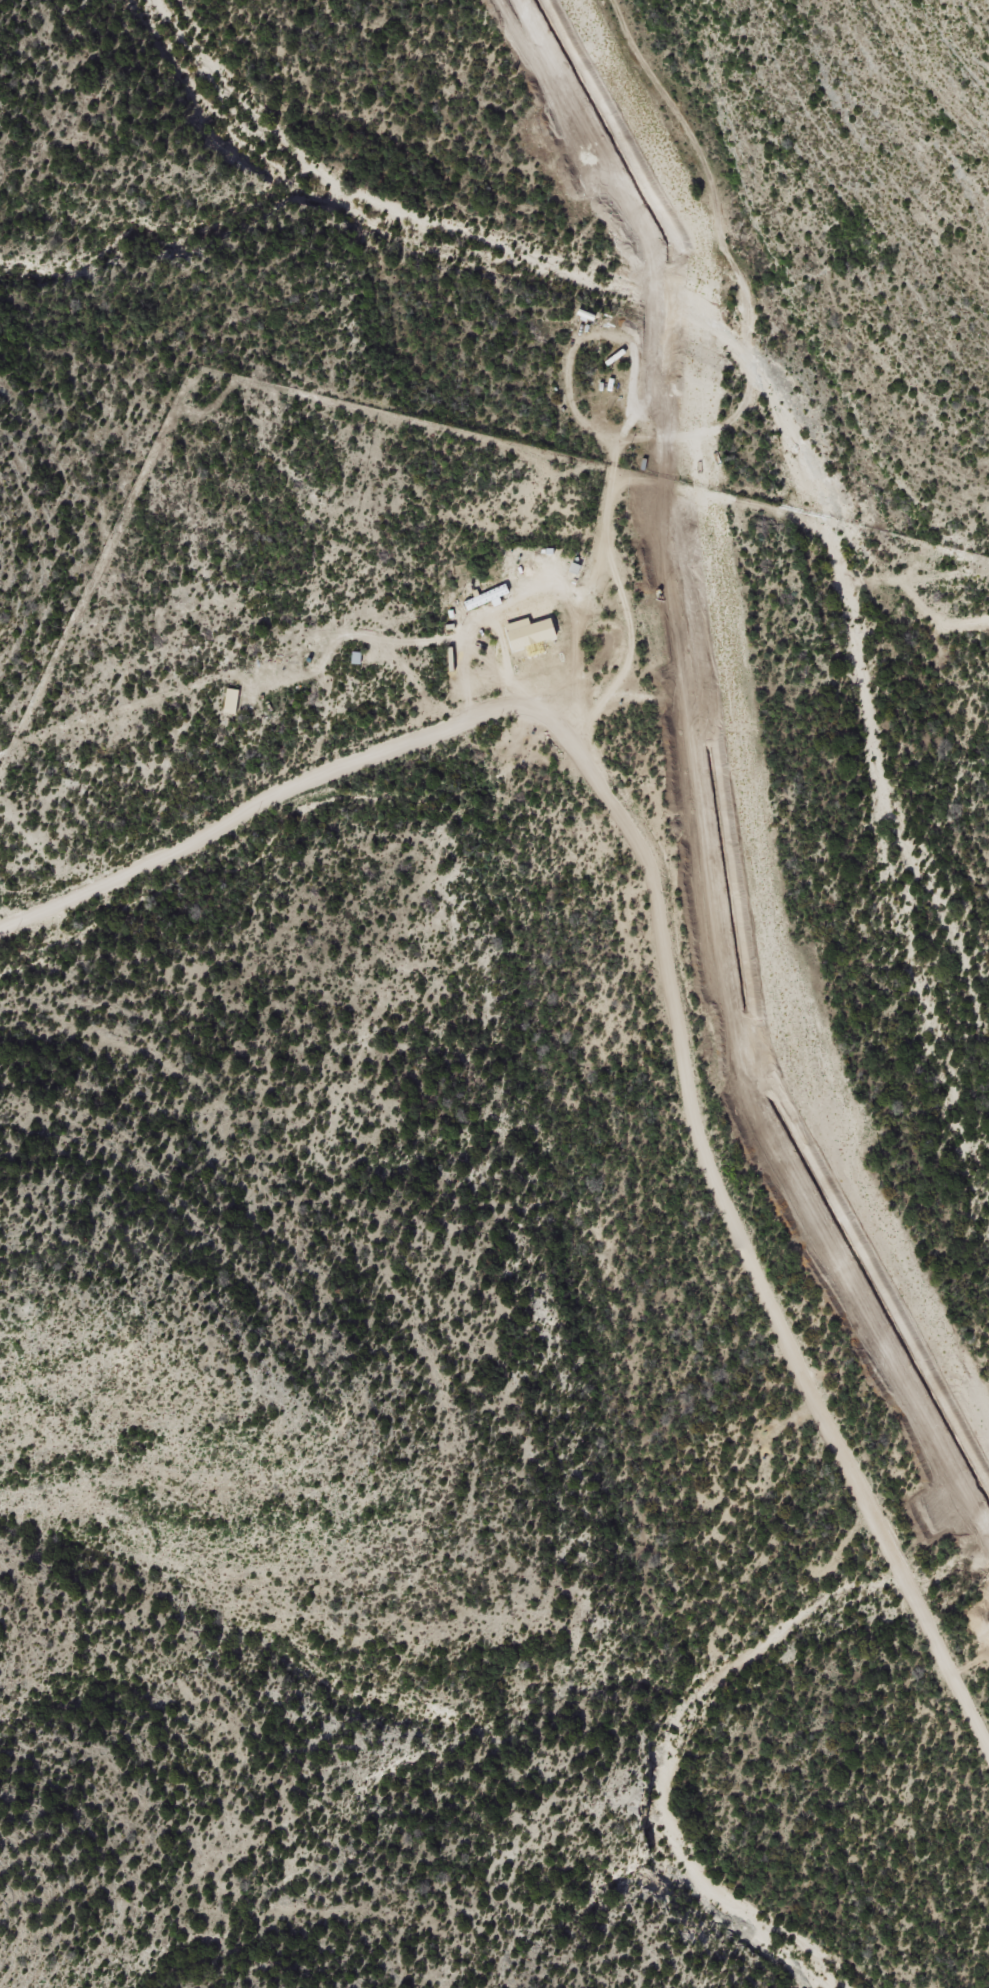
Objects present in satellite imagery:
road: (592, 578)
road: (603, 661)
building: (234, 702)
road: (737, 1209)

